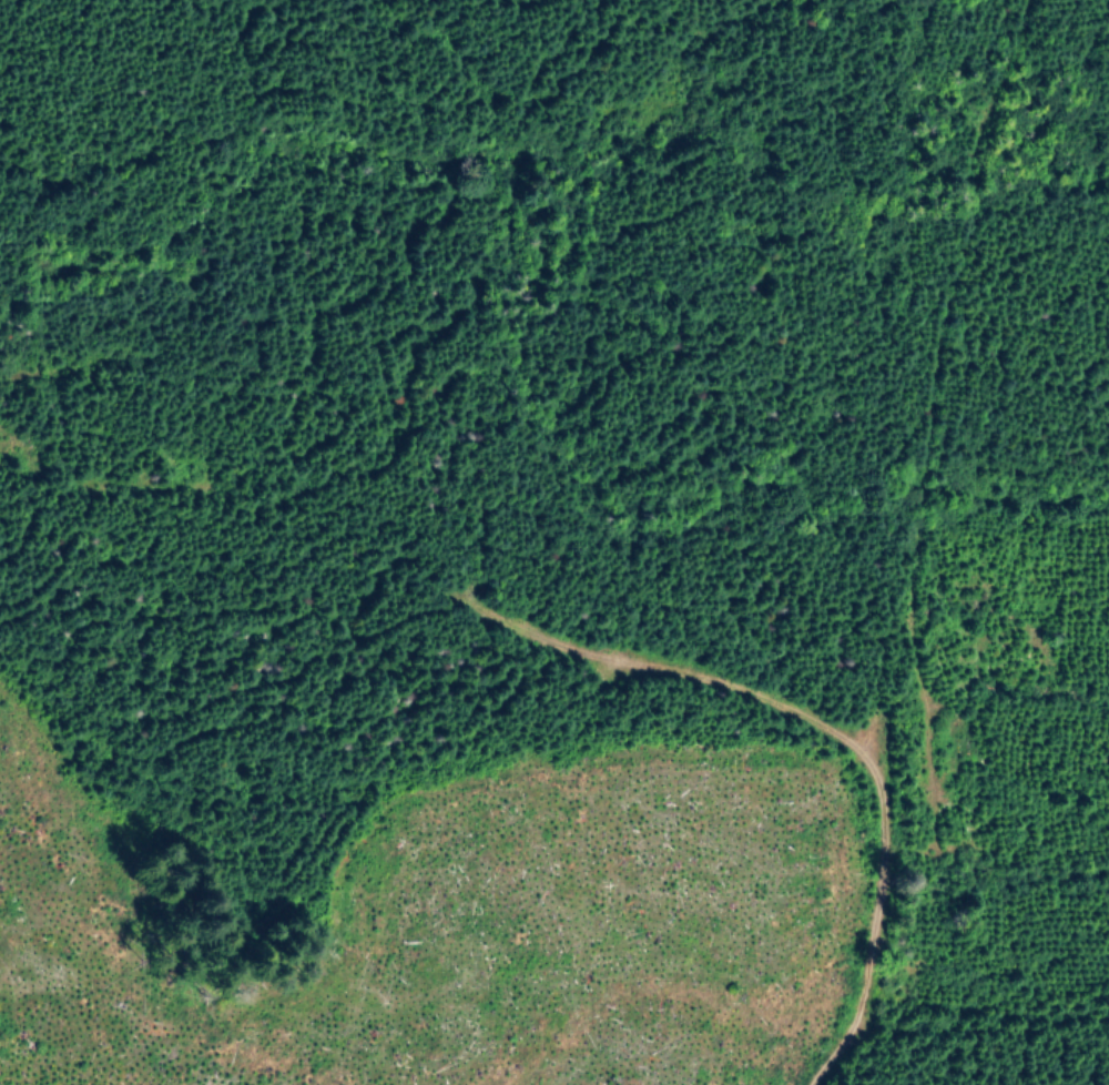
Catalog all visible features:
road: (28, 278)
road: (912, 546)

